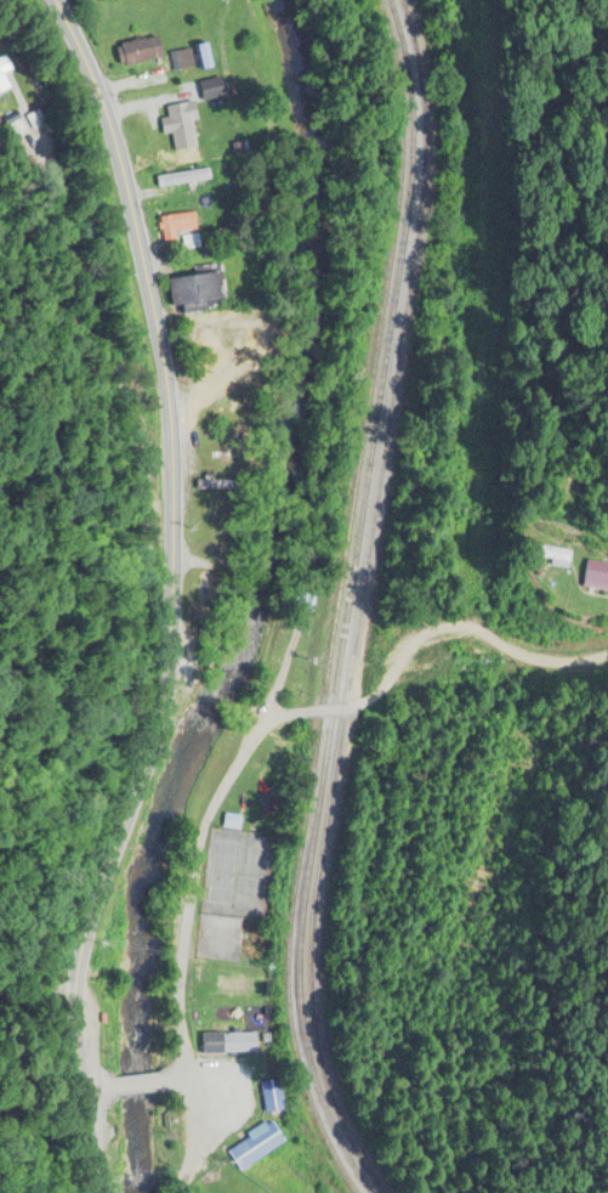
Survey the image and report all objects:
building: (142, 47)
building: (183, 60)
building: (5, 72)
building: (215, 85)
building: (180, 123)
building: (183, 179)
building: (194, 287)
building: (242, 321)
building: (203, 364)
building: (216, 481)
building: (215, 513)
building: (552, 556)
building: (596, 575)
building: (203, 593)
road: (167, 594)
river: (252, 601)
railway: (352, 603)
road: (265, 729)
building: (232, 821)
park: (234, 871)
road: (42, 931)
park: (216, 935)
building: (229, 1040)
road: (136, 1082)
road: (93, 1085)
building: (272, 1096)
building: (256, 1142)
park: (227, 1183)

